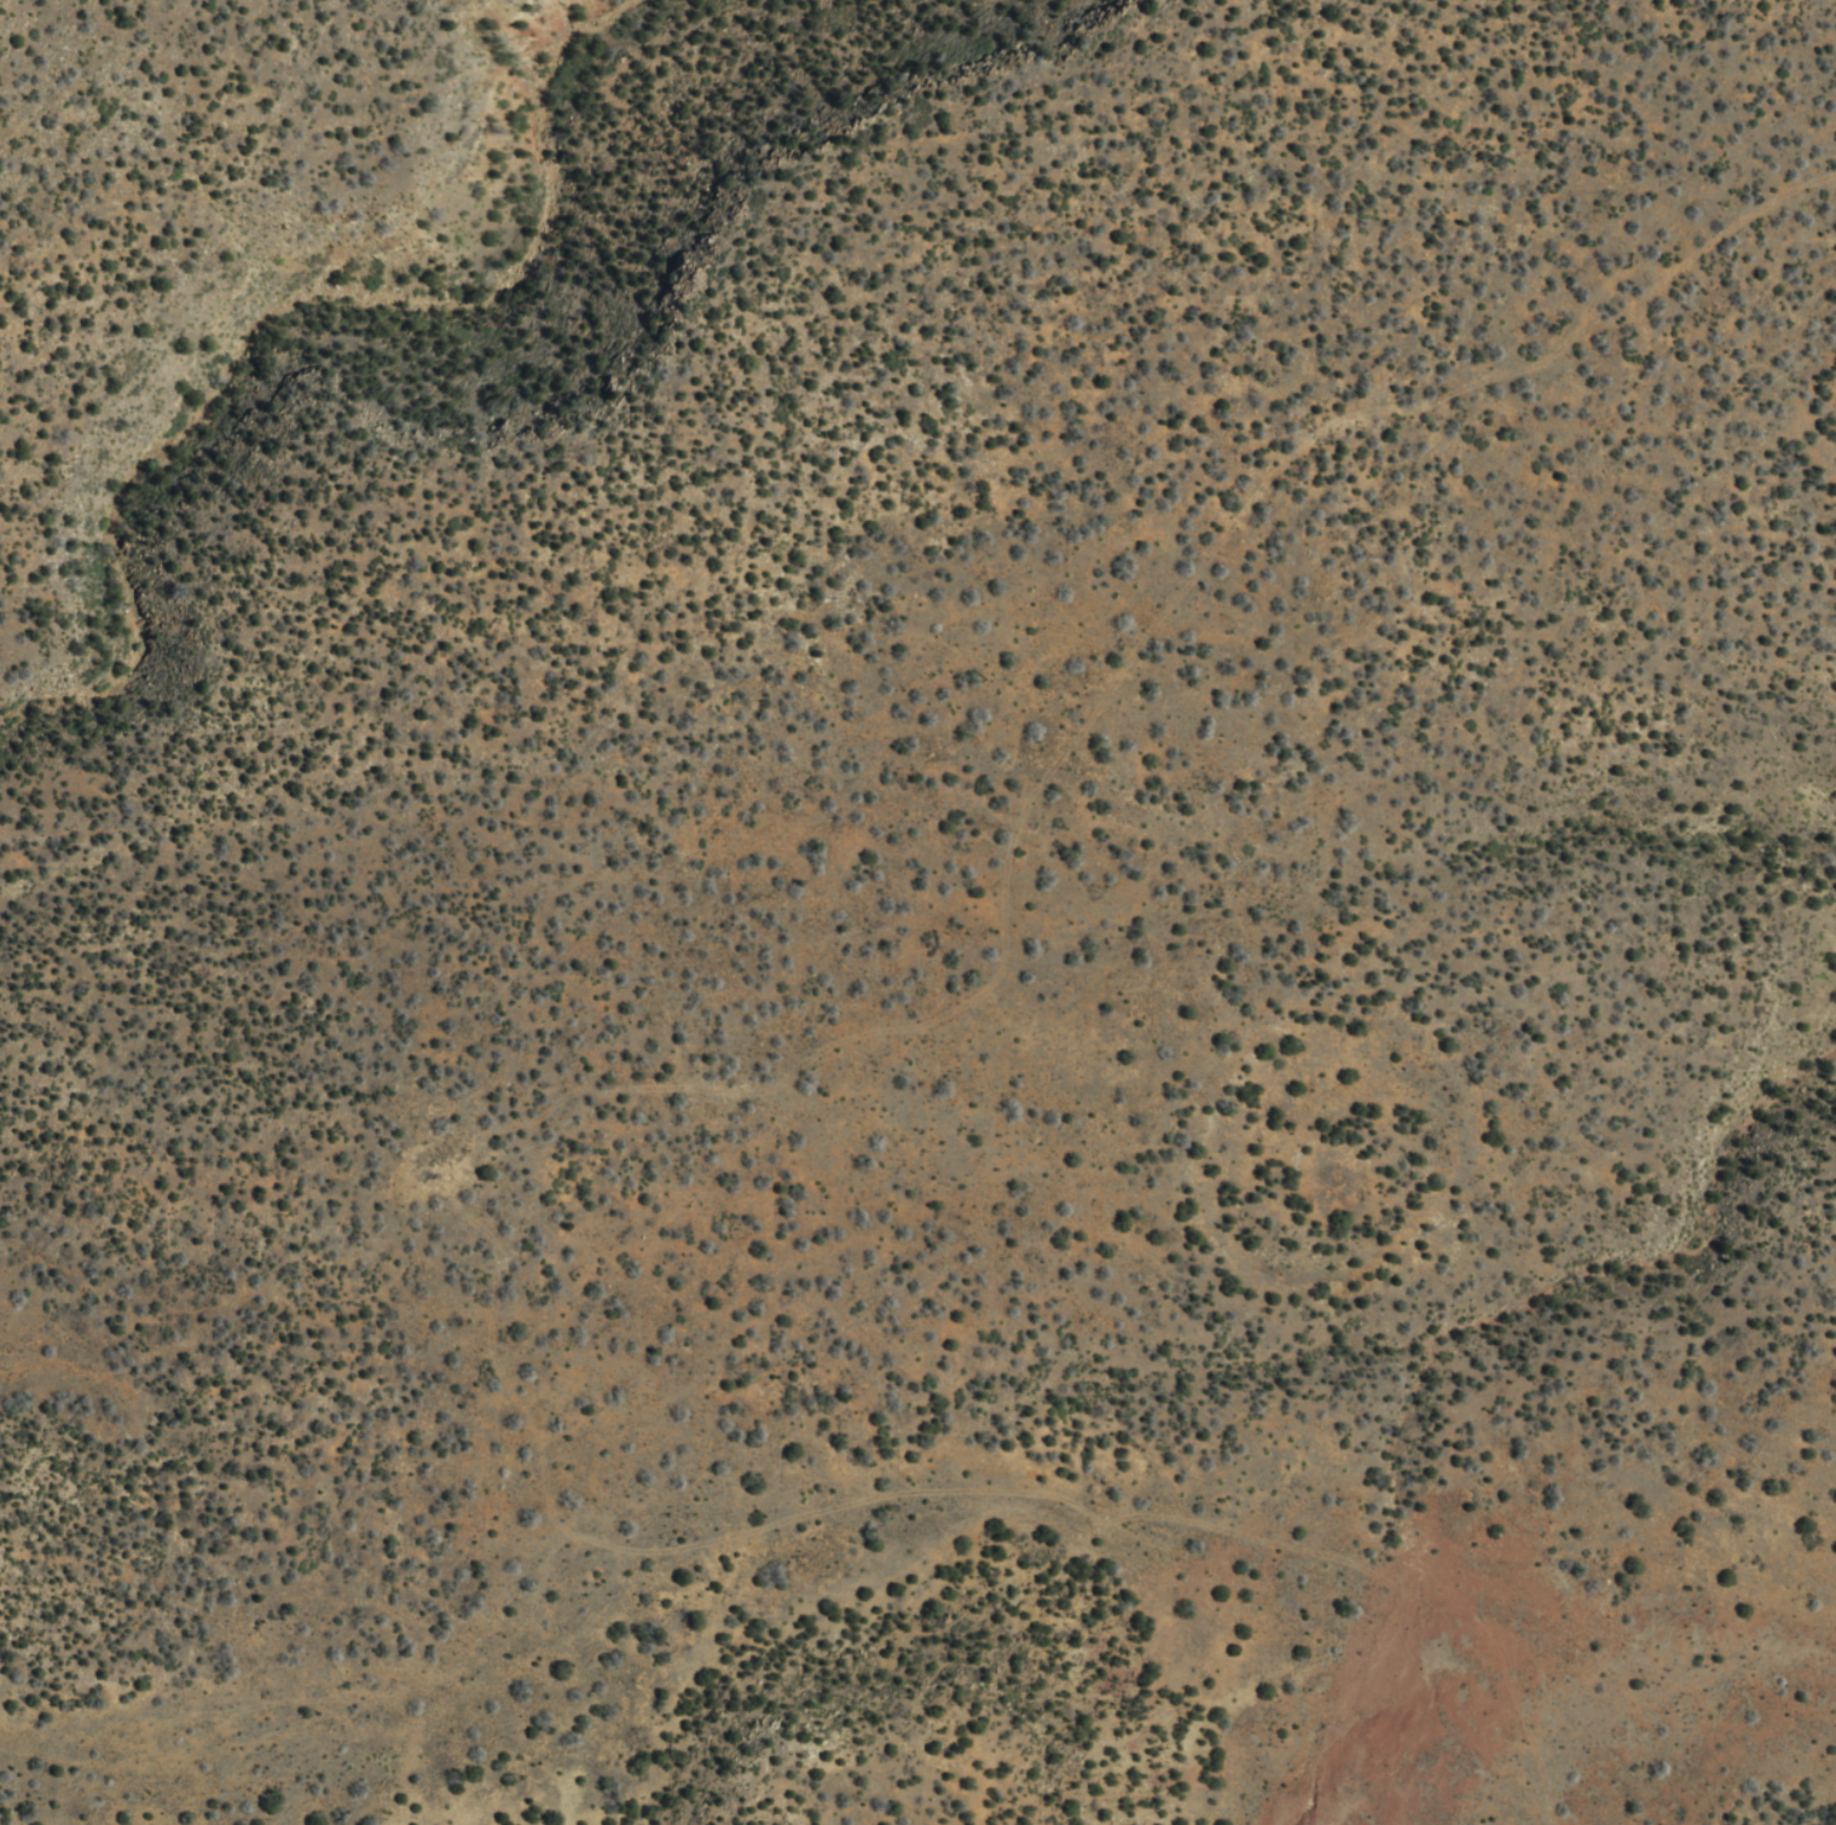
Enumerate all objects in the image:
road: (1552, 1693)

